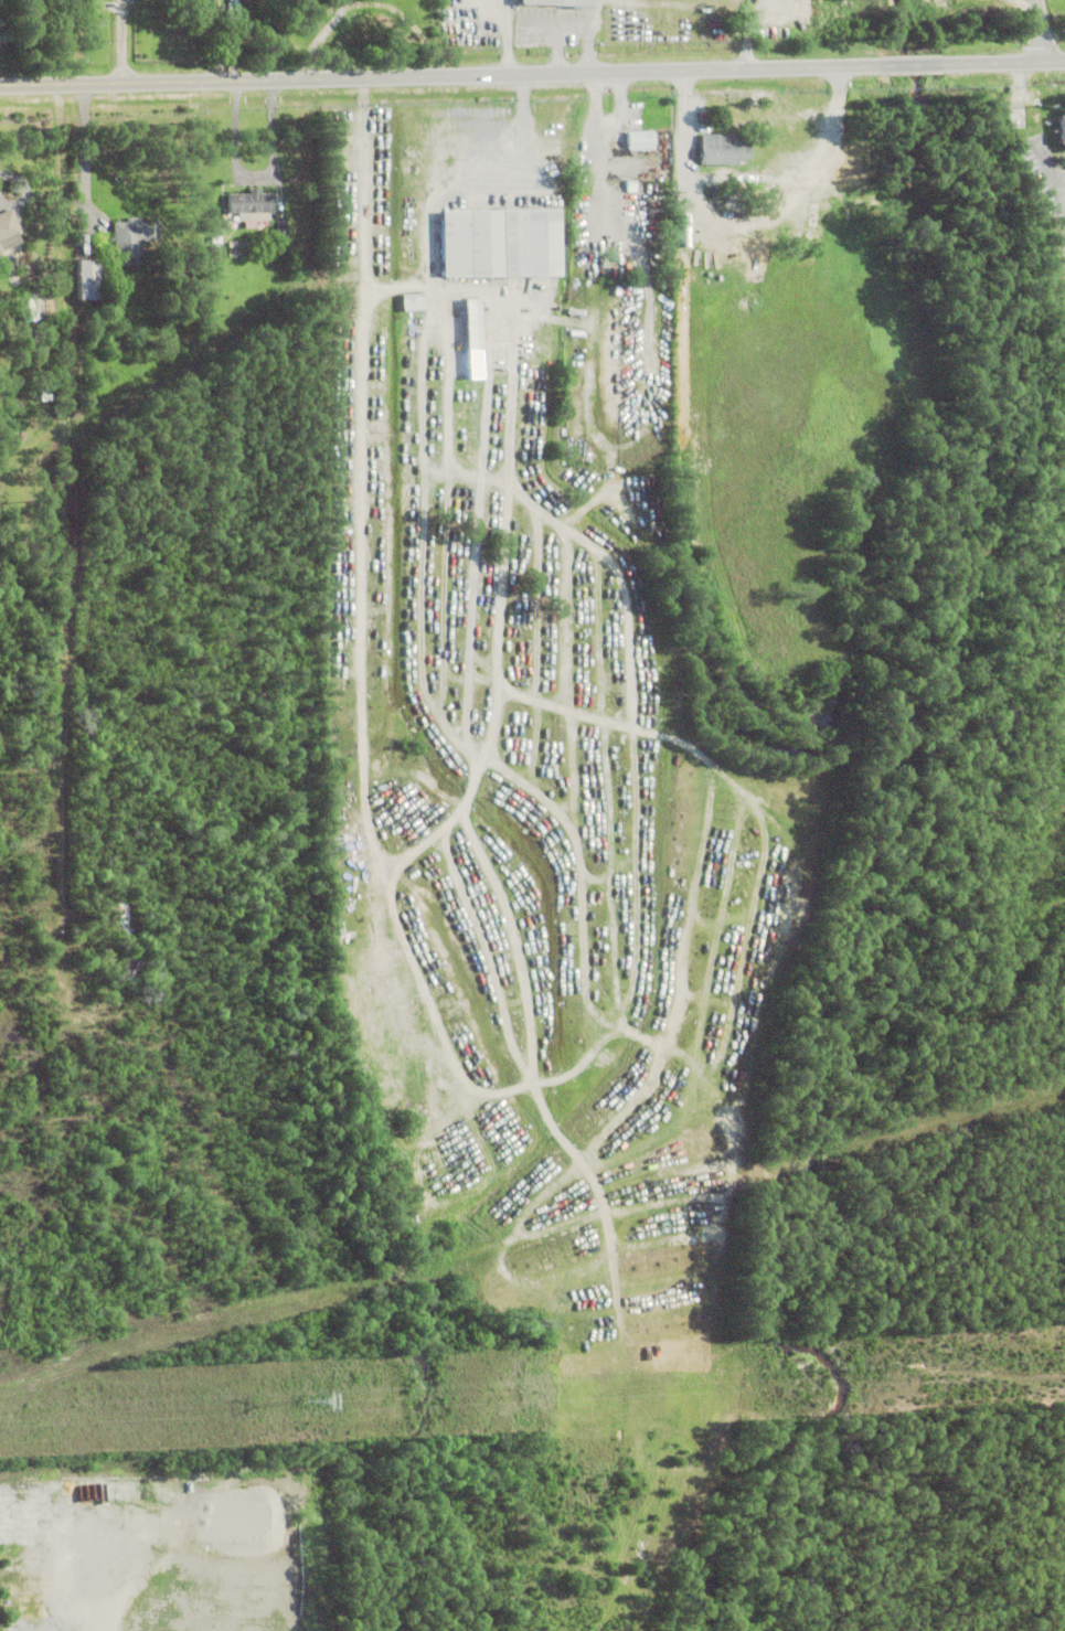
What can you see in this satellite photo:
building: (556, 4)
road: (1045, 30)
road: (123, 41)
road: (532, 73)
building: (1057, 129)
building: (640, 137)
road: (524, 149)
building: (712, 150)
road: (253, 177)
building: (249, 207)
building: (797, 207)
building: (247, 227)
building: (279, 230)
building: (8, 233)
building: (132, 239)
building: (499, 239)
building: (215, 243)
building: (255, 245)
building: (238, 246)
building: (82, 248)
building: (214, 253)
building: (237, 255)
building: (202, 280)
building: (85, 285)
building: (412, 298)
building: (40, 309)
building: (26, 313)
building: (471, 320)
building: (39, 344)
building: (49, 380)
road: (63, 576)
building: (120, 920)
building: (397, 980)
power tower: (300, 1401)

